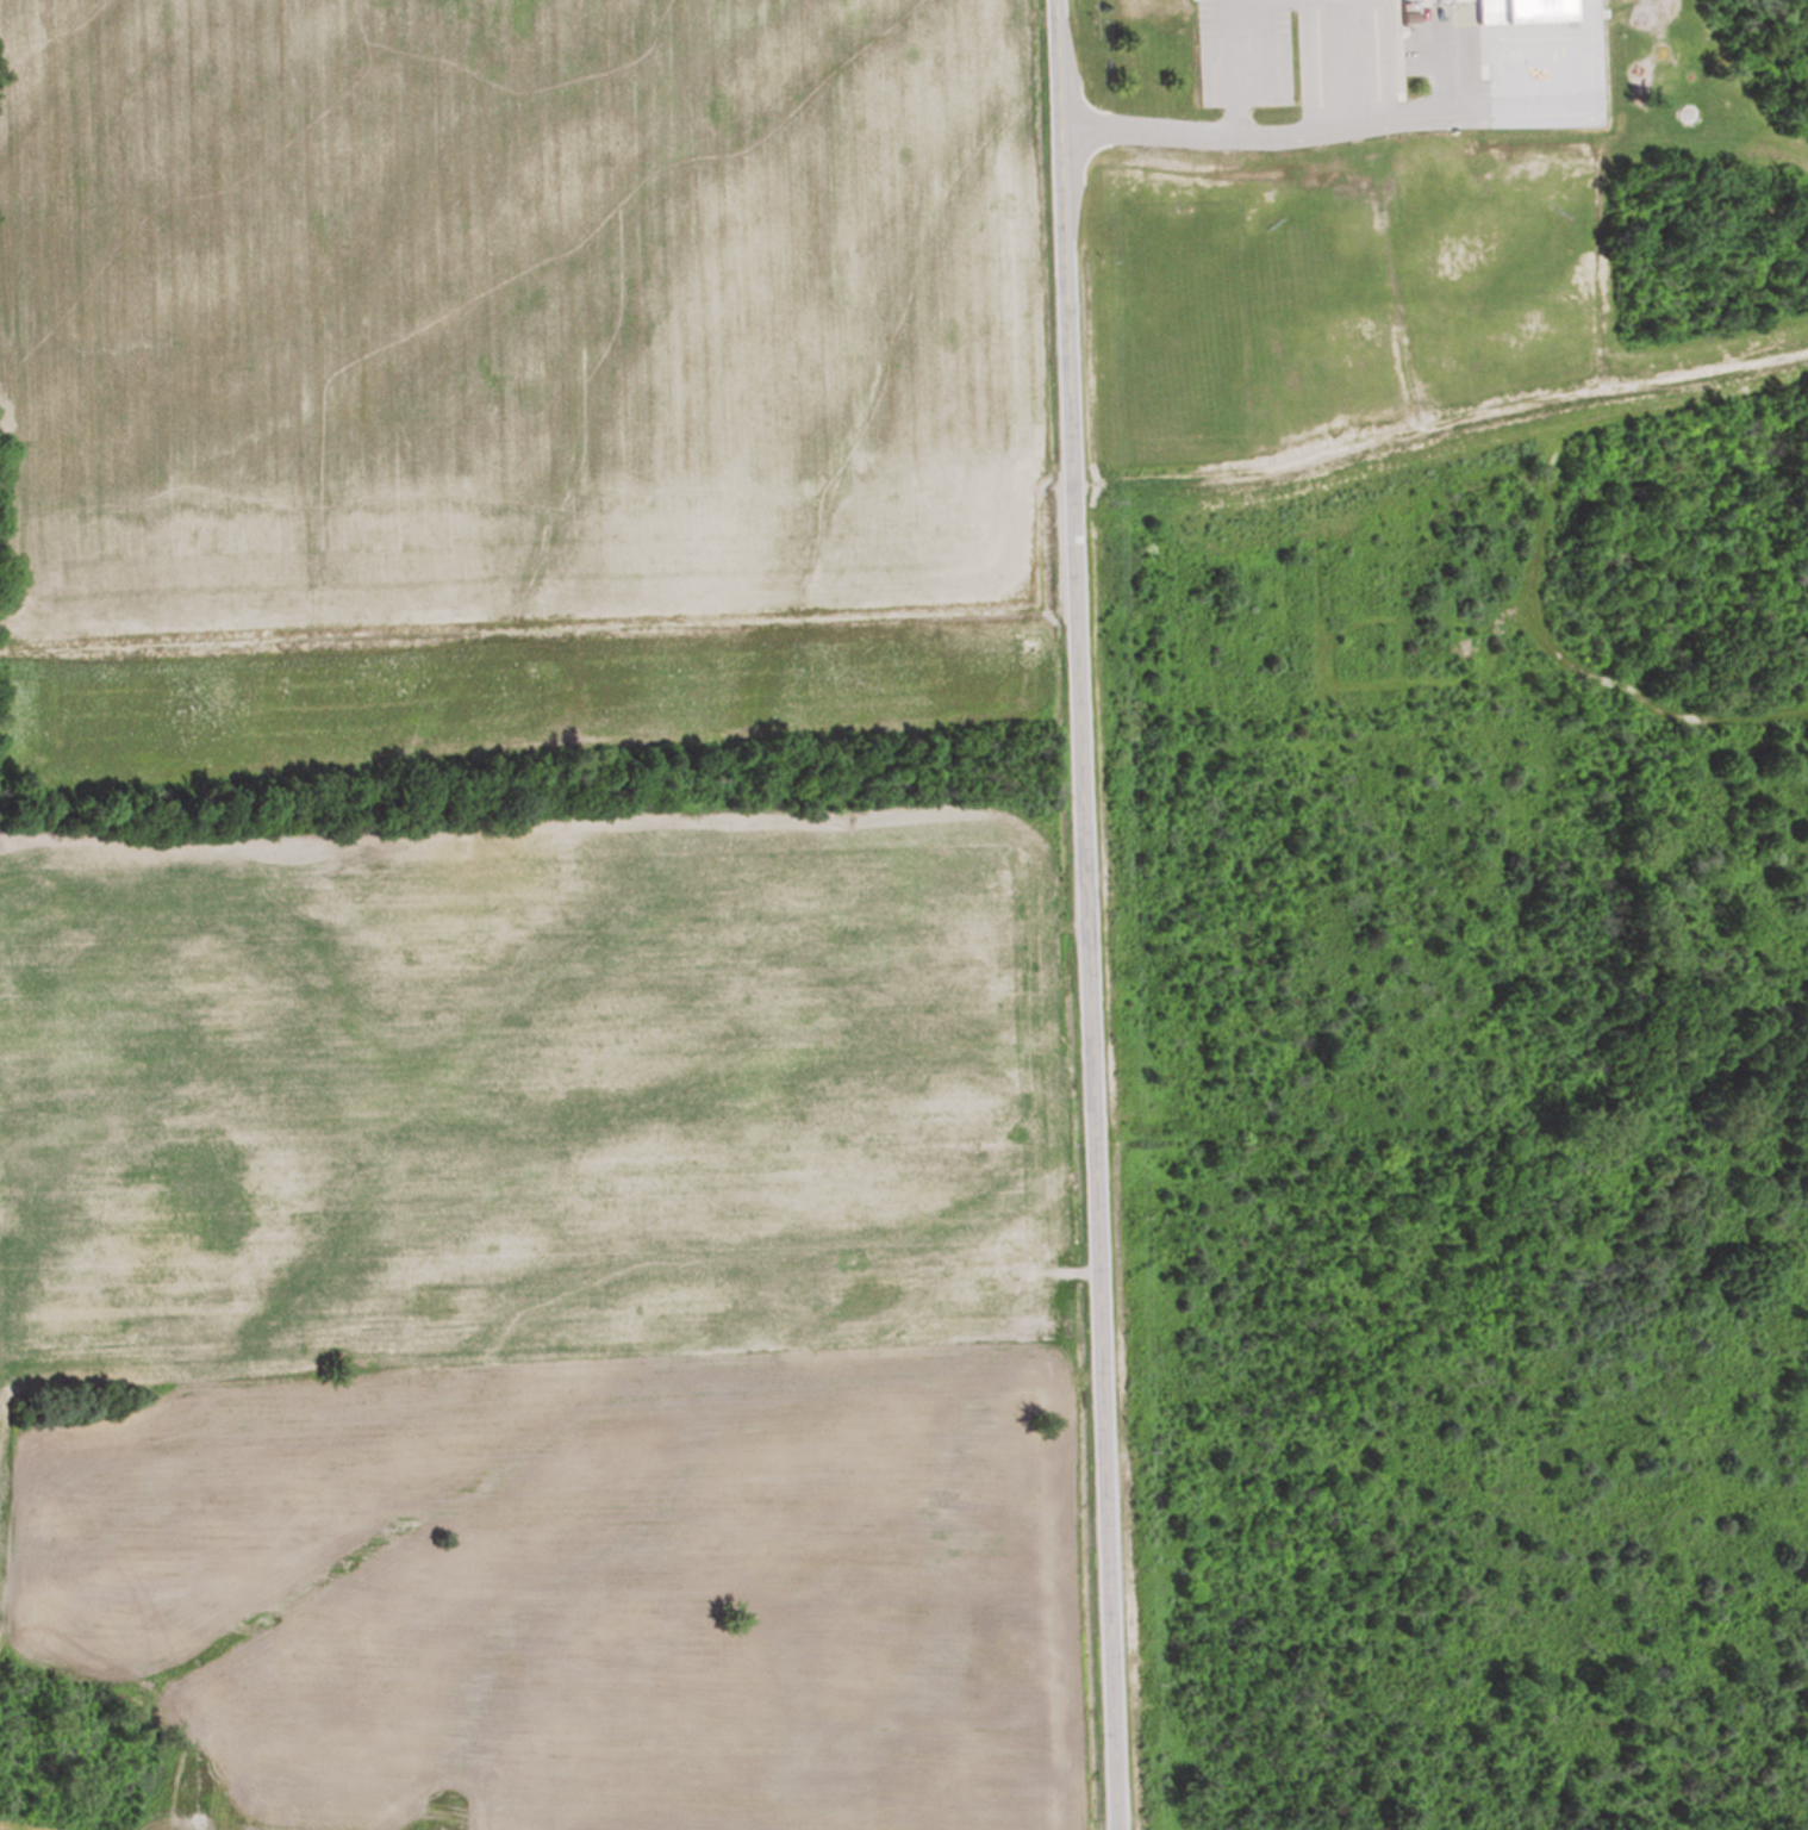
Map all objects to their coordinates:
building: (1513, 8)
road: (1320, 124)
road: (1086, 914)

